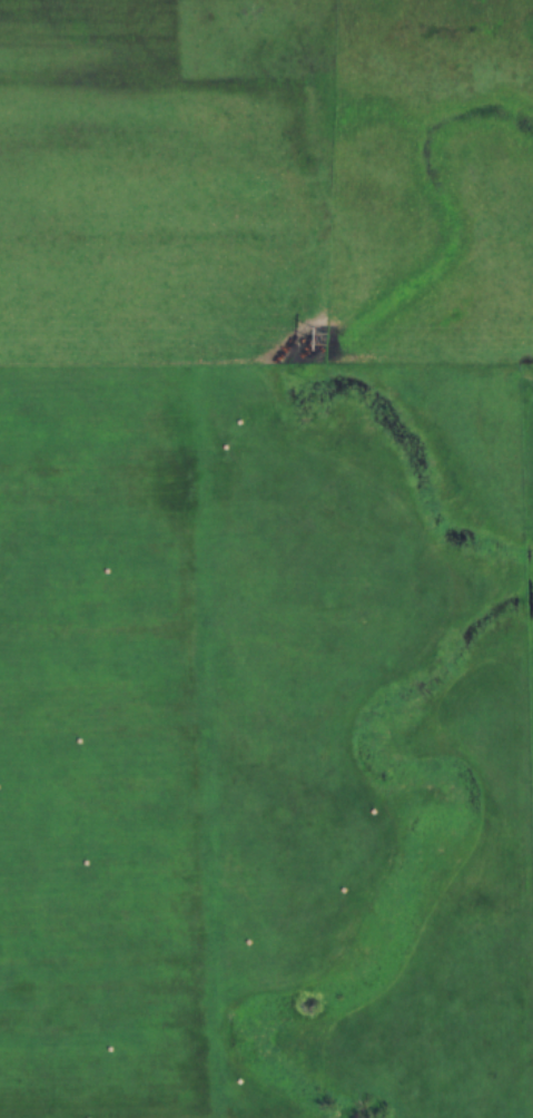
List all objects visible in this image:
power tower: (324, 340)

